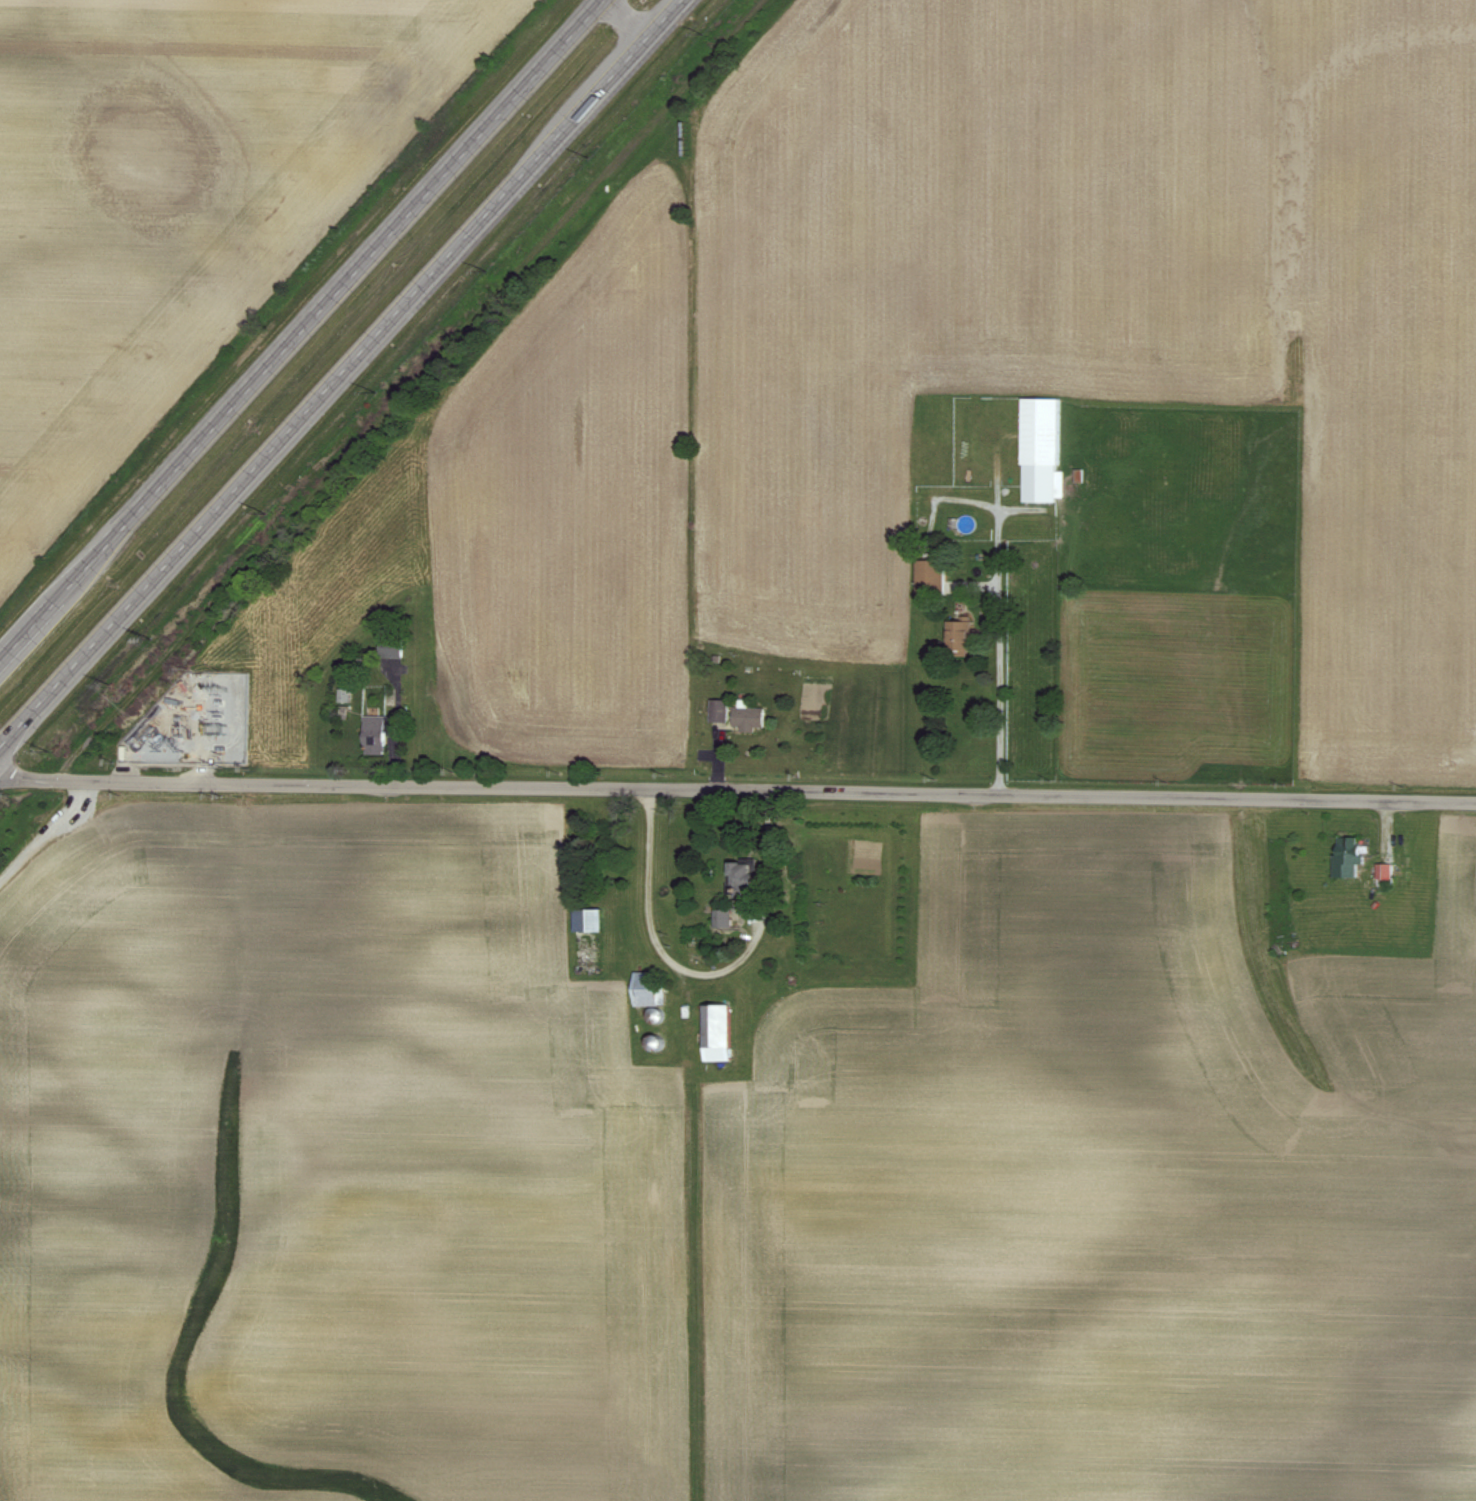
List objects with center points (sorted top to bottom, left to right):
road: (626, 19)
road: (300, 328)
road: (341, 374)
building: (1042, 456)
building: (934, 579)
building: (958, 639)
road: (1000, 650)
building: (389, 651)
building: (719, 711)
building: (748, 716)
power substation: (194, 723)
building: (375, 735)
road: (737, 788)
road: (47, 834)
building: (1347, 857)
building: (1384, 871)
building: (724, 919)
building: (587, 920)
road: (705, 969)
building: (648, 990)
building: (717, 1033)

